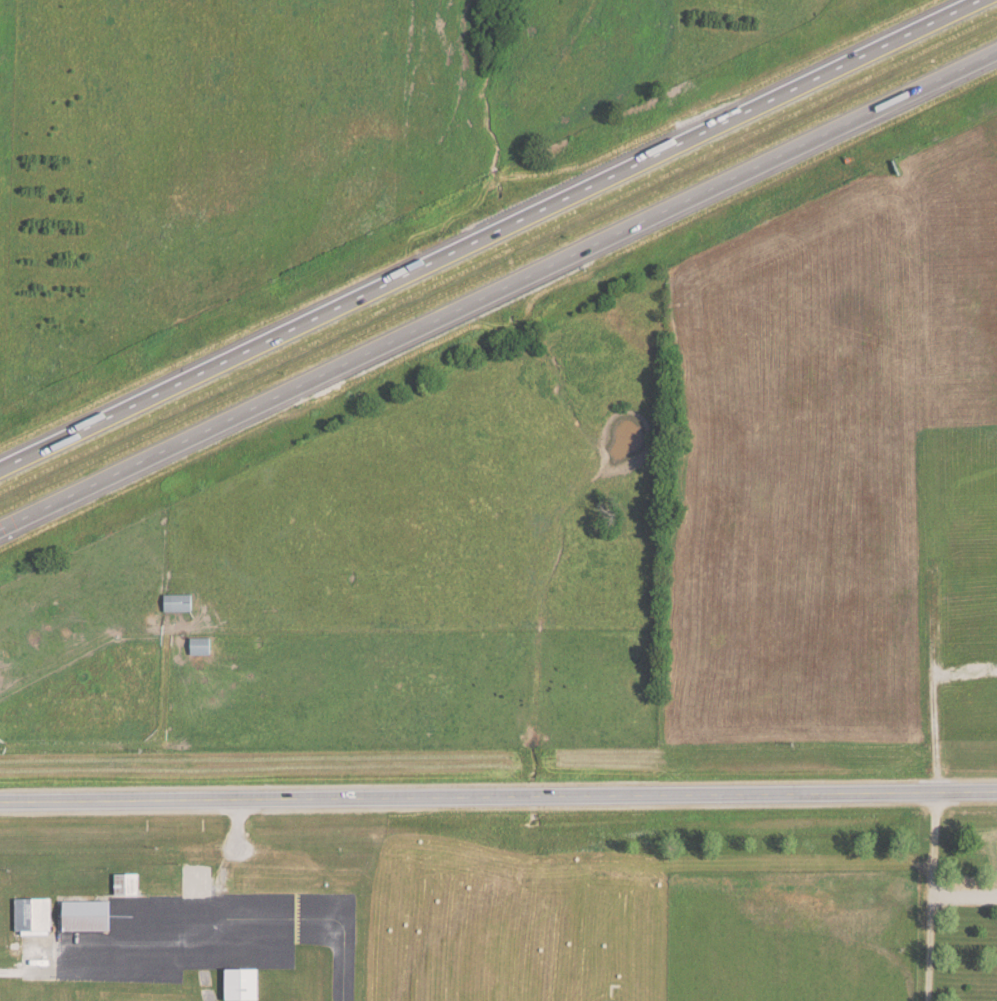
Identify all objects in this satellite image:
road: (492, 237)
road: (499, 293)
building: (179, 602)
building: (201, 645)
building: (0, 671)
road: (498, 796)
building: (126, 882)
road: (932, 896)
building: (87, 914)
building: (29, 919)
airport taxiway: (356, 937)
building: (244, 982)

